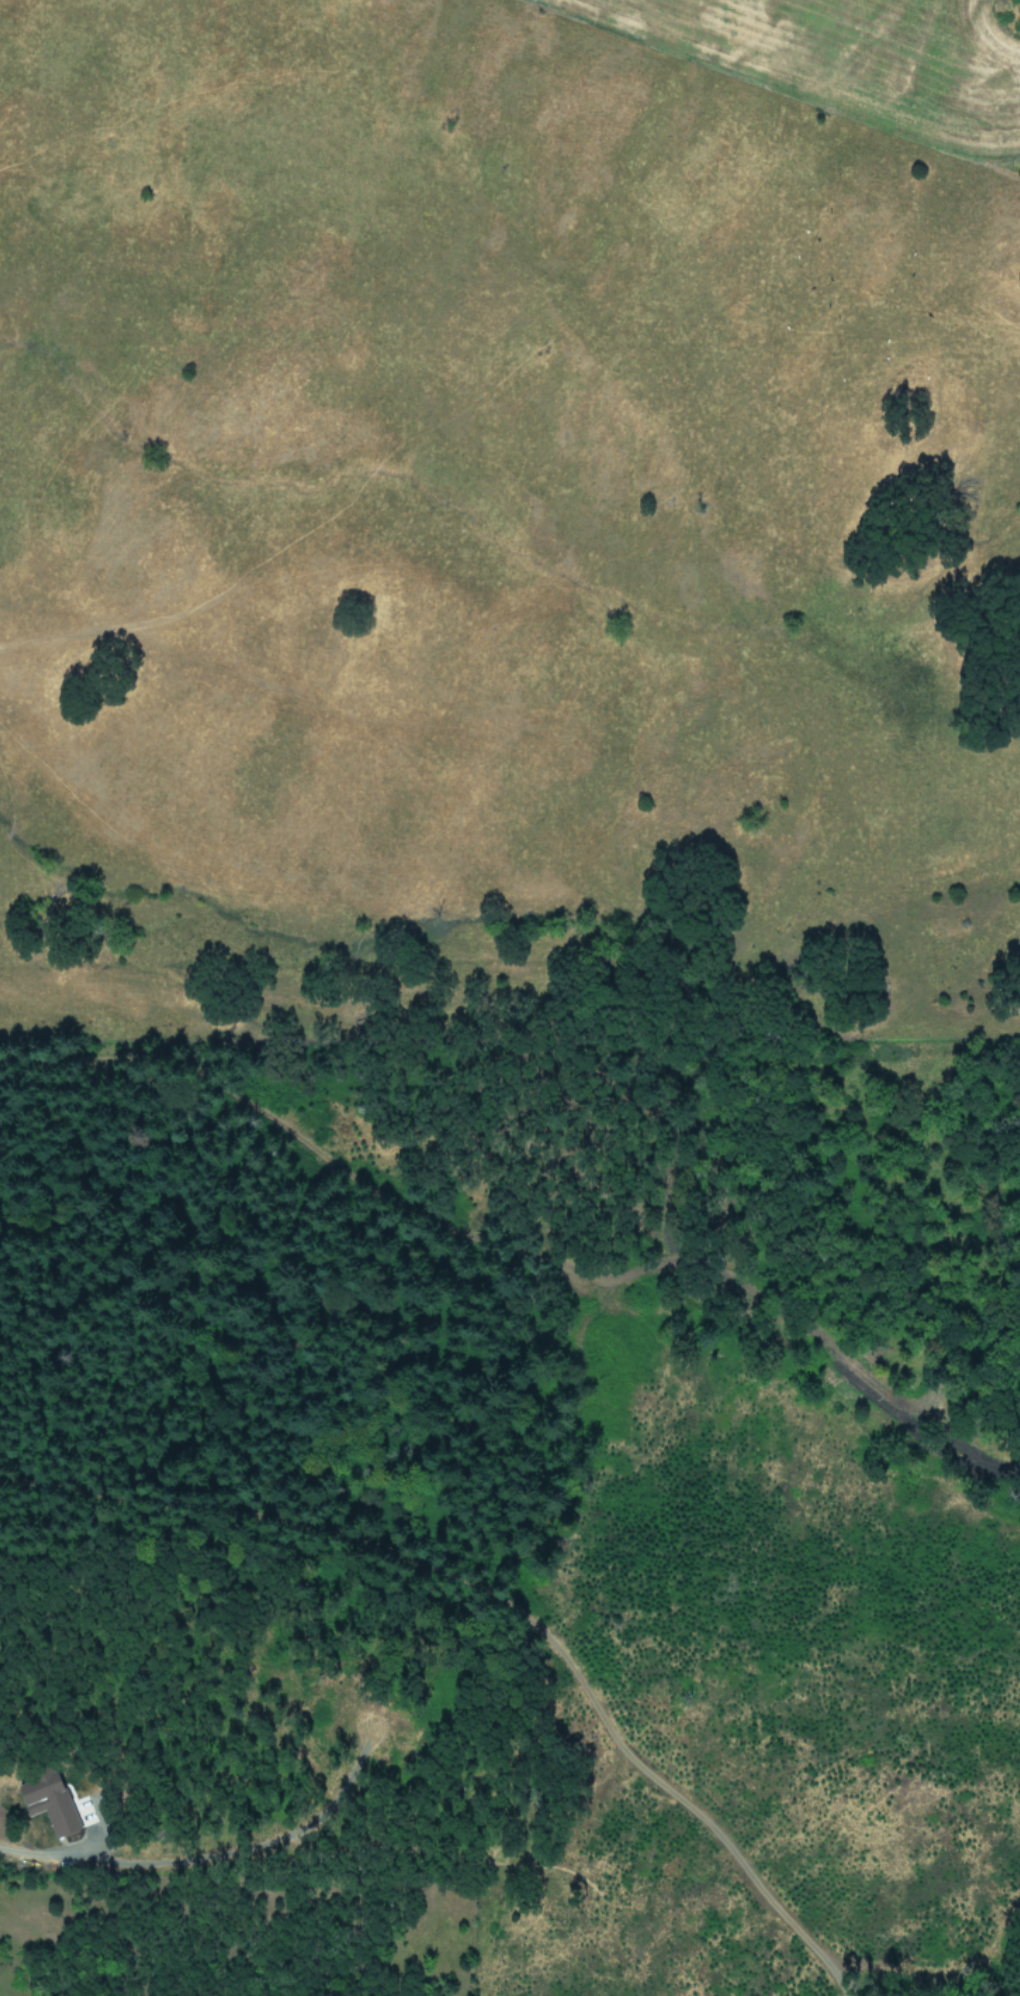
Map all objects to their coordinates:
crop: (457, 495)
building: (50, 1802)
road: (22, 1848)

